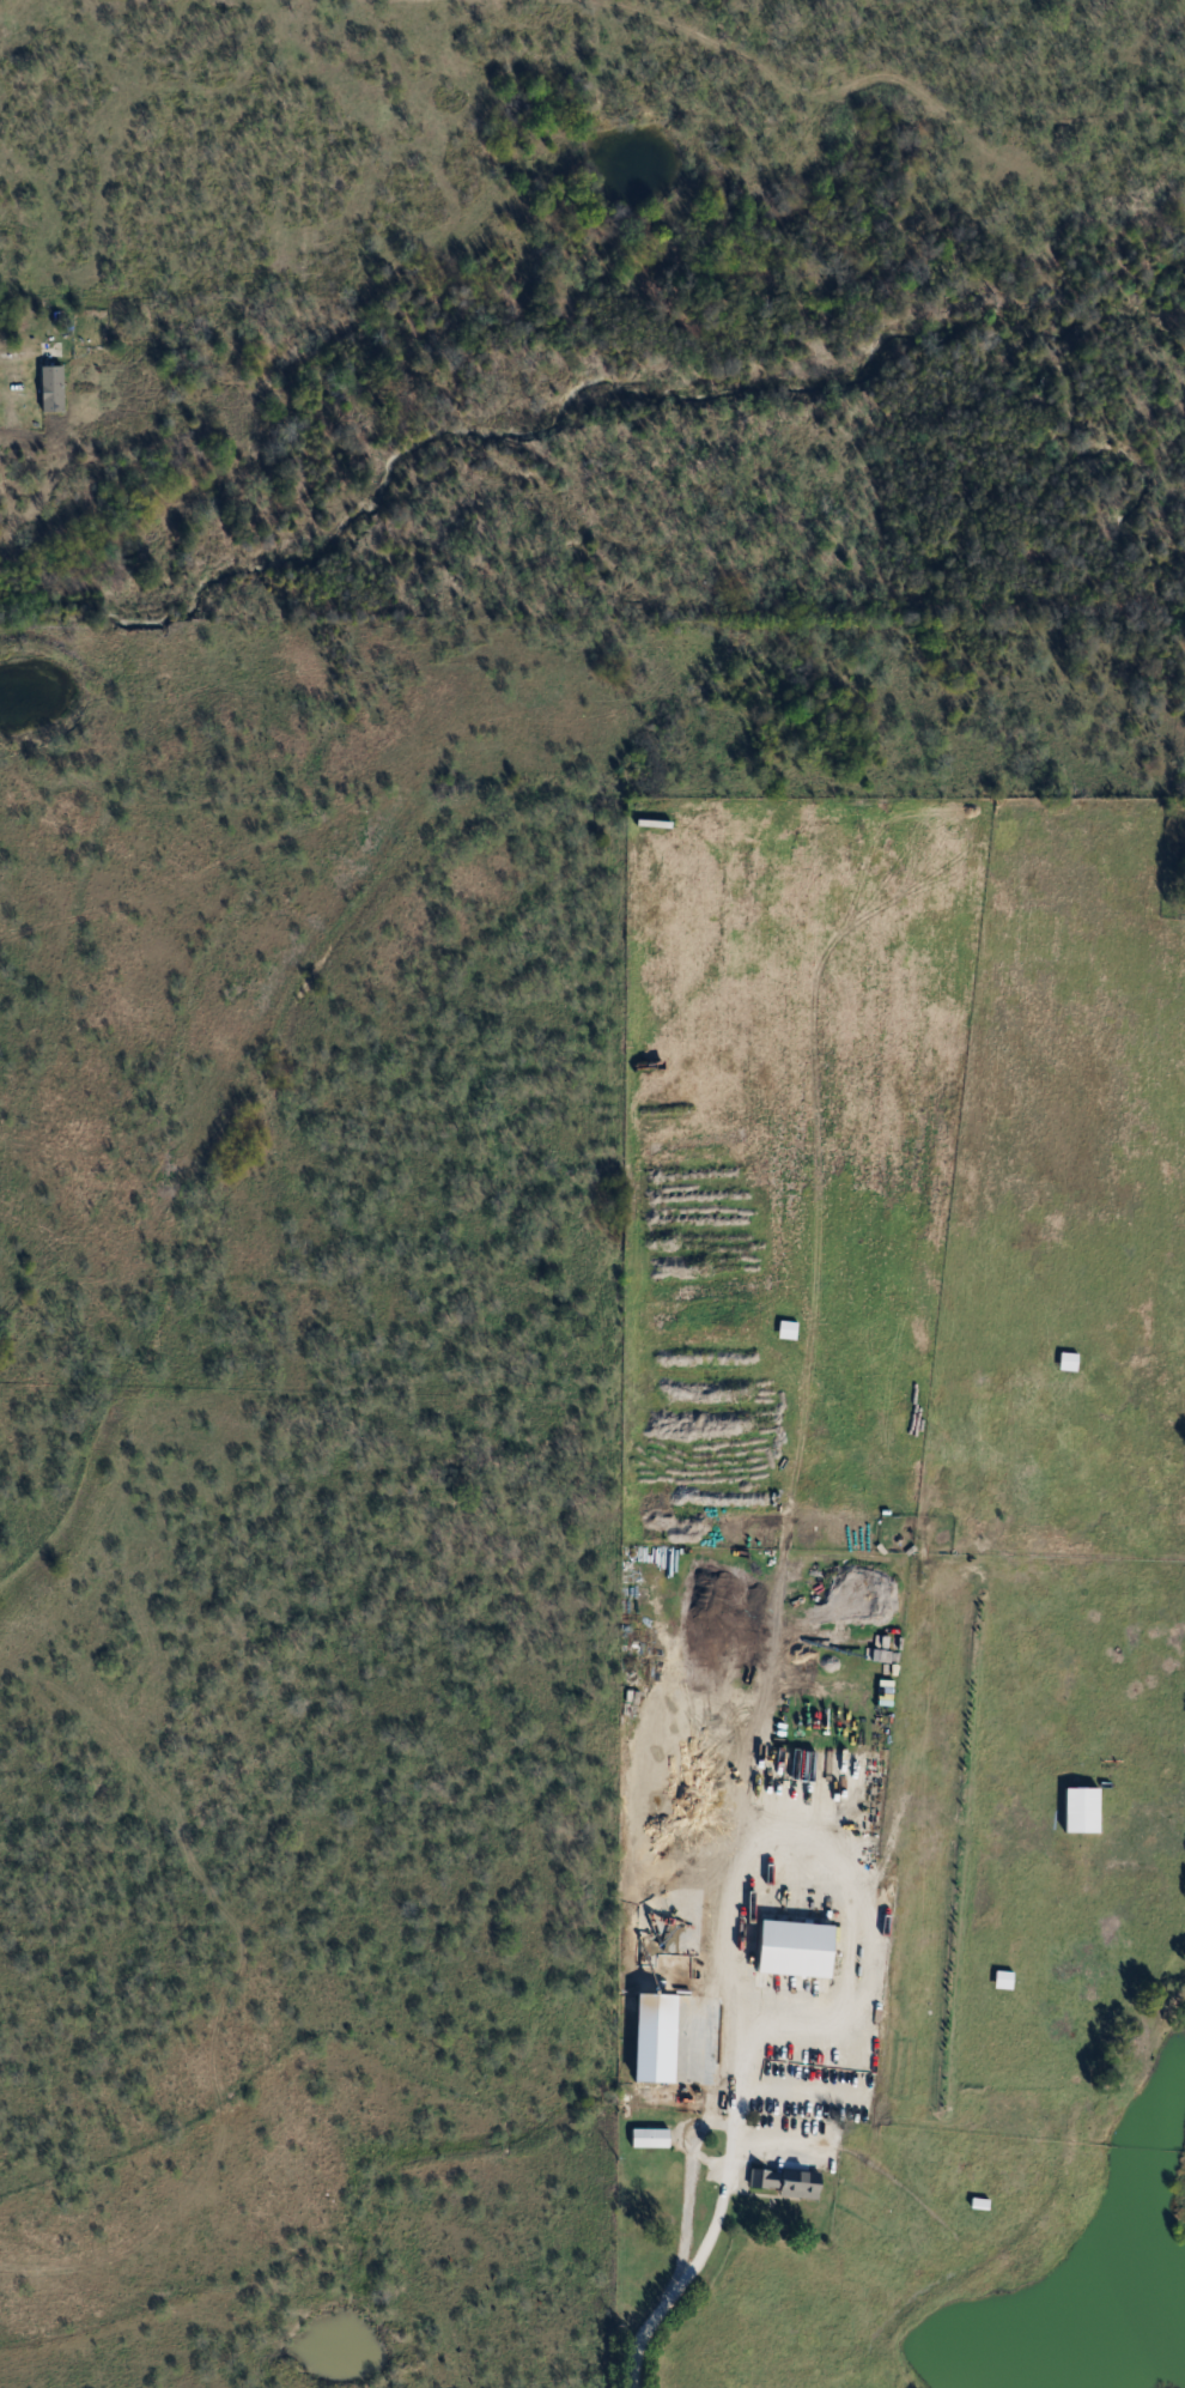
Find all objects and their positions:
building: (55, 388)
building: (790, 1329)
building: (1070, 1360)
building: (820, 1734)
building: (1084, 1810)
building: (1005, 1980)
building: (758, 2004)
building: (739, 2090)
building: (651, 2138)
building: (789, 2178)
building: (980, 2202)
road: (719, 2214)

